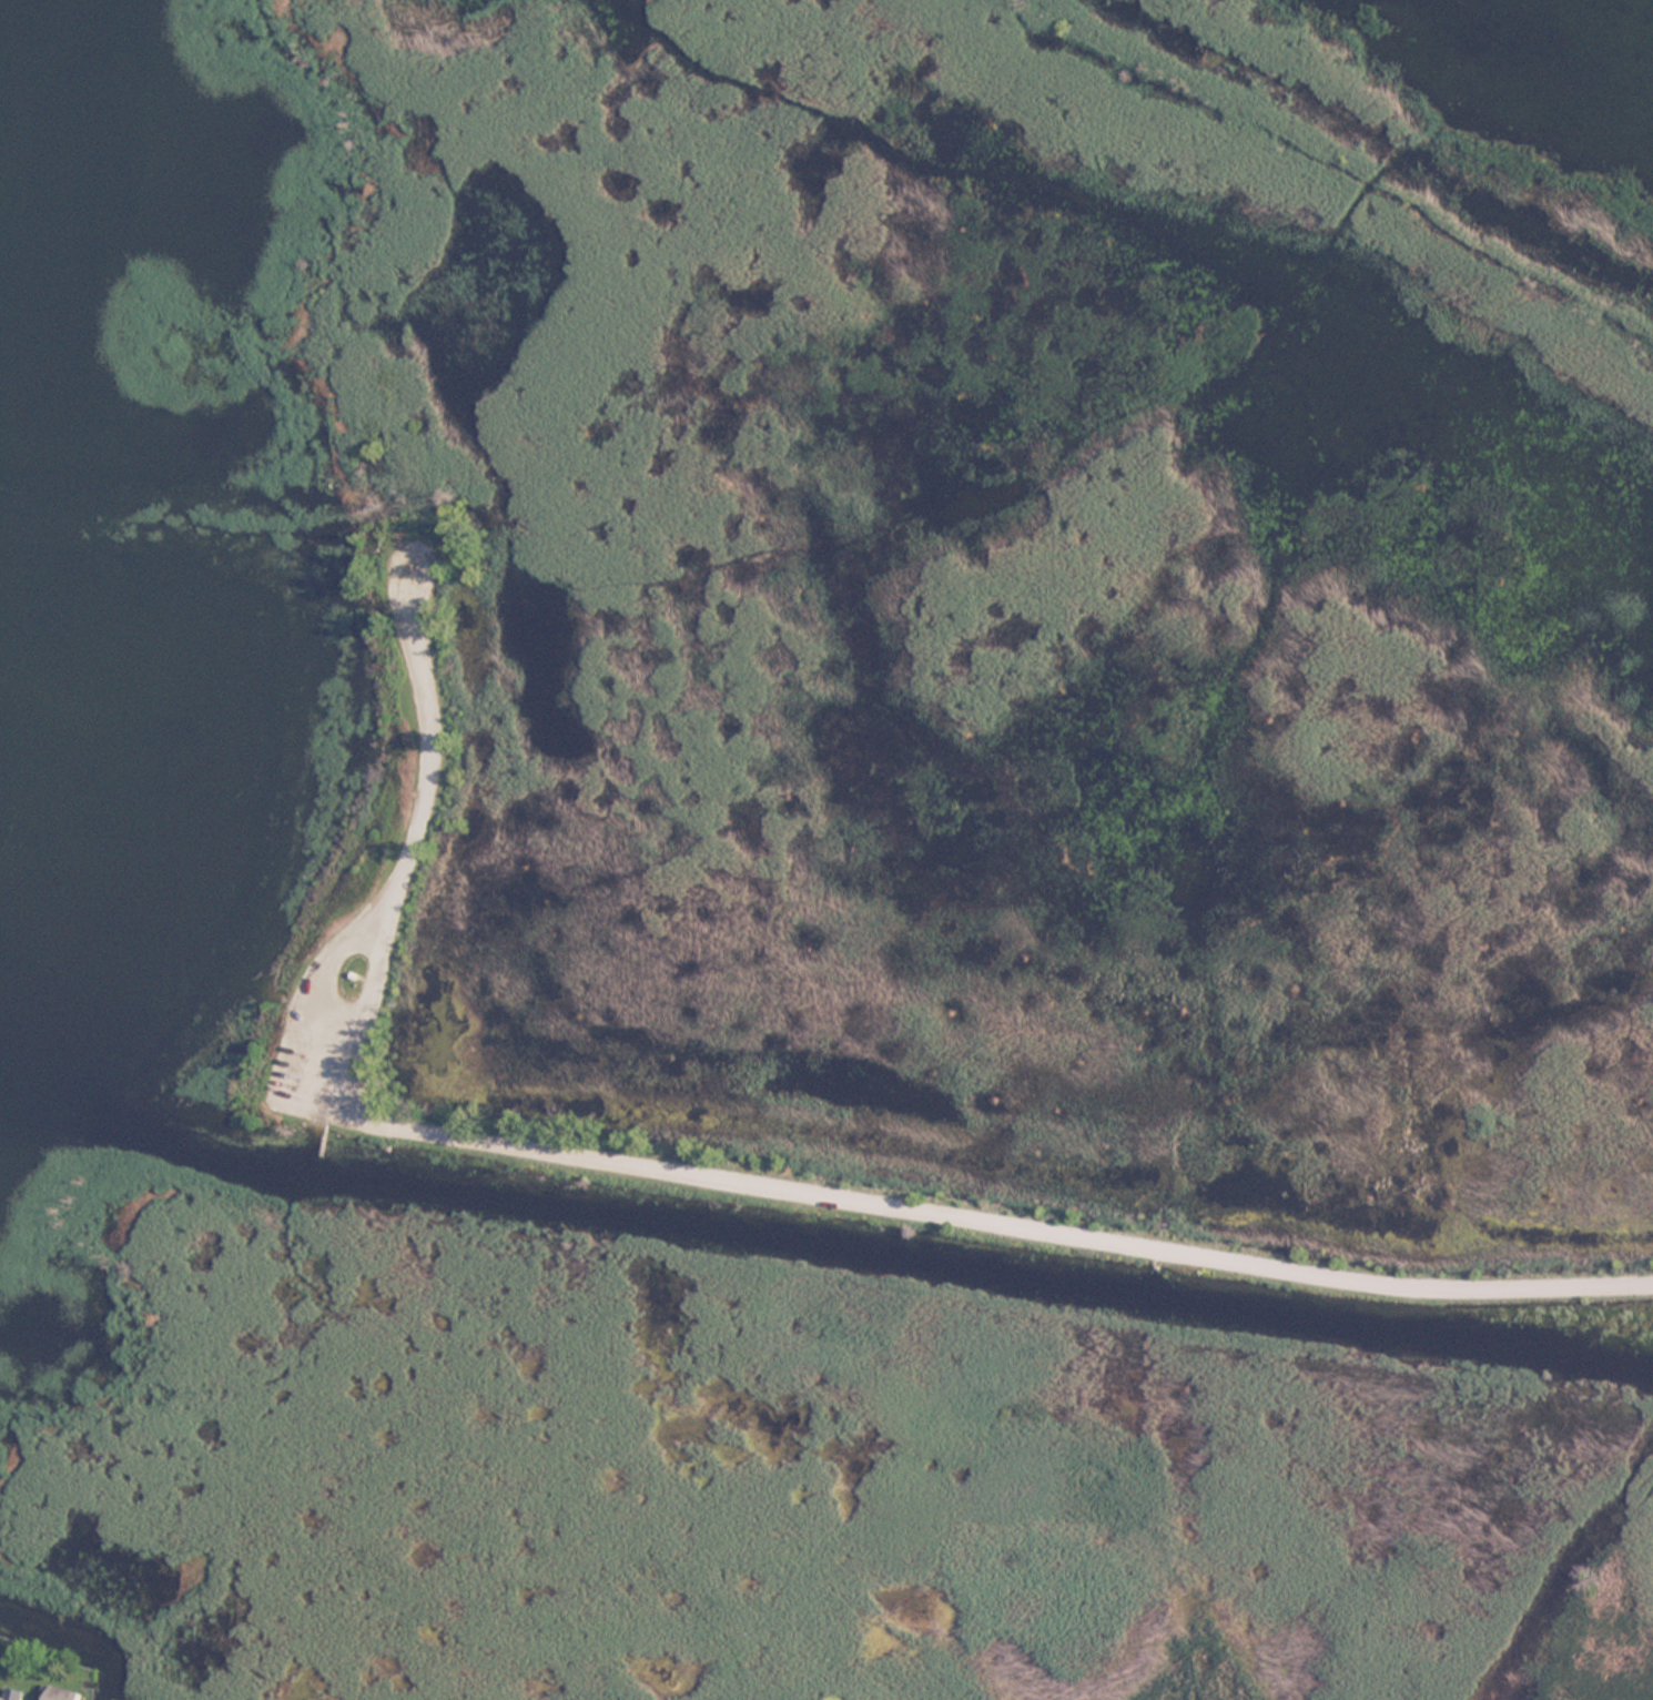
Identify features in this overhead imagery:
road: (315, 993)
parking lot: (332, 1020)
road: (320, 1109)
road: (724, 1176)
building: (62, 1692)
building: (12, 1693)

